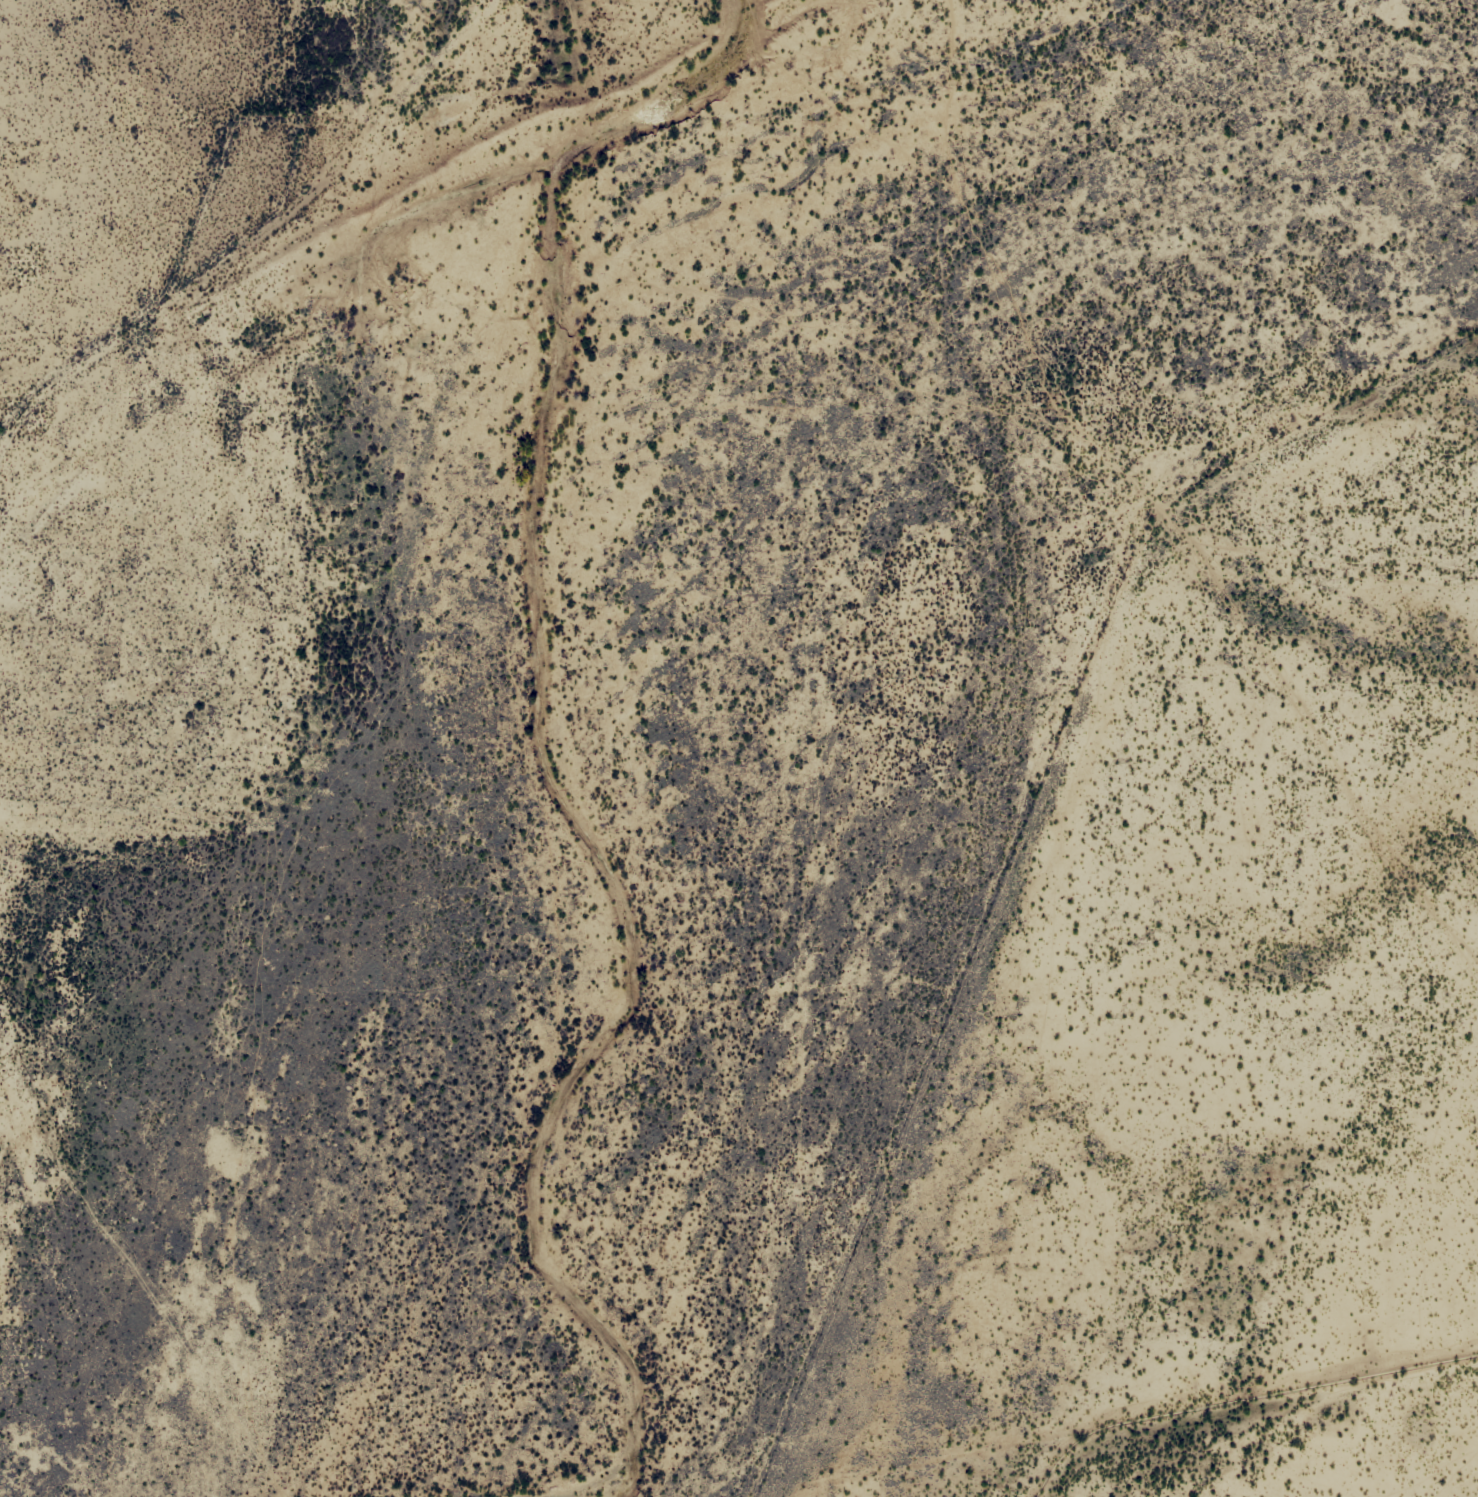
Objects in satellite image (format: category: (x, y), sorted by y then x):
road: (264, 264)

